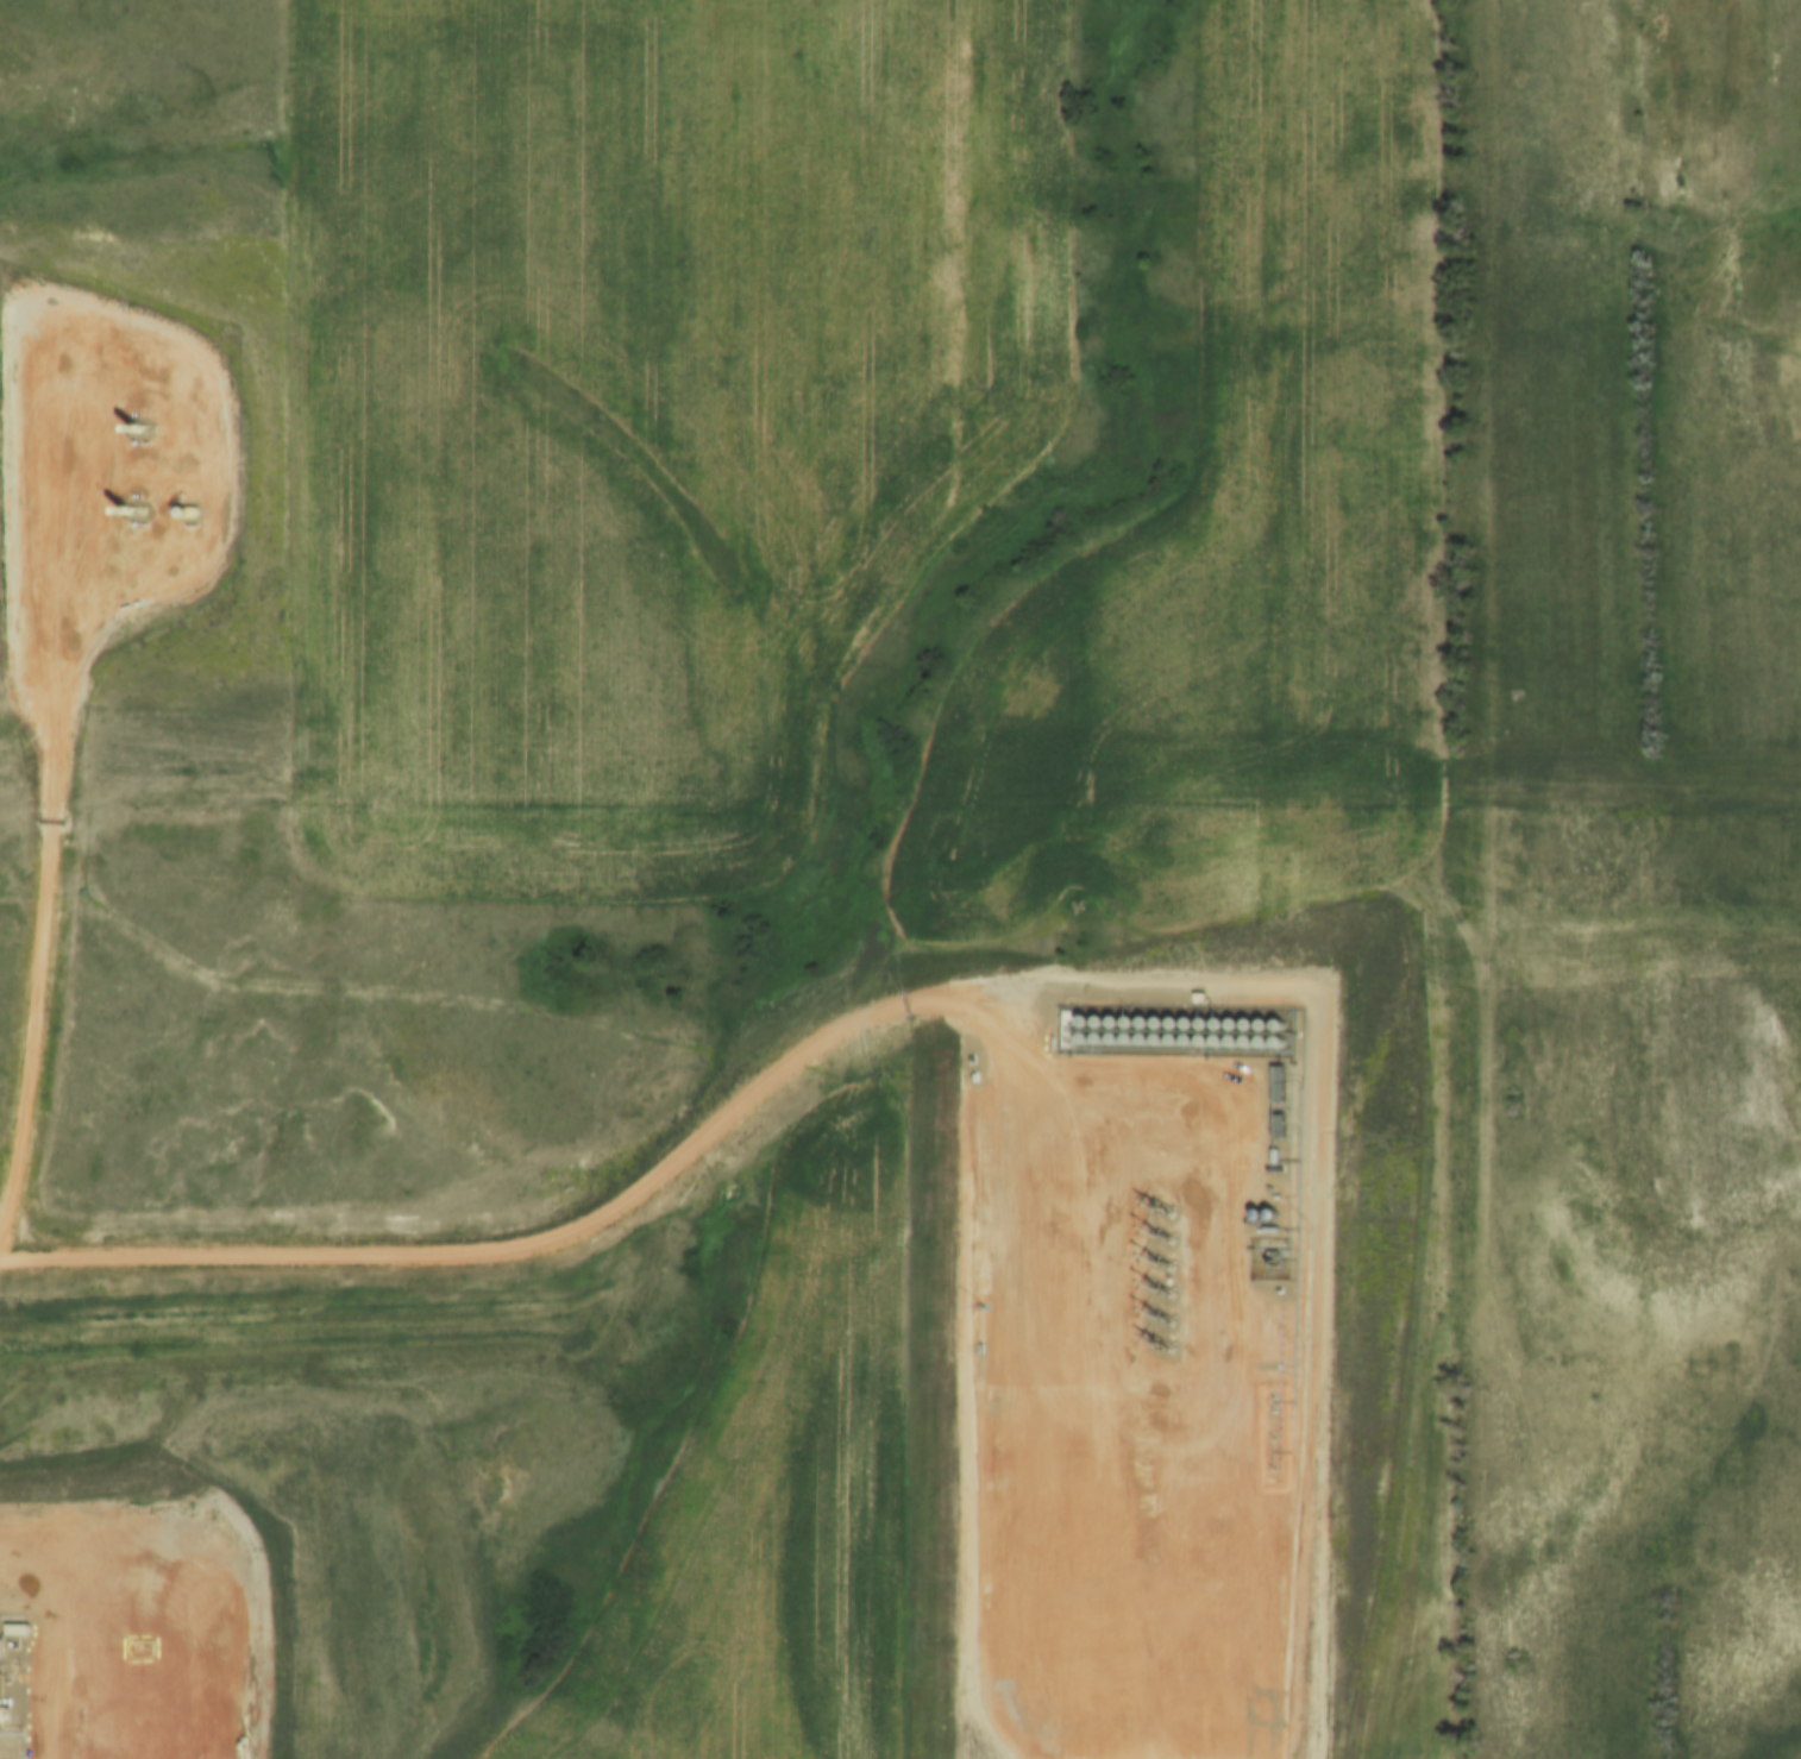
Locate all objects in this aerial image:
petroleum well: (128, 426)
petroleum well: (126, 508)
petroleum well: (180, 511)
road: (50, 797)
building: (1196, 997)
building: (1062, 1030)
building: (968, 1058)
building: (1274, 1082)
building: (1275, 1125)
building: (1270, 1156)
petroleum well: (1157, 1206)
road: (582, 1227)
petroleum well: (1156, 1232)
petroleum well: (1154, 1257)
petroleum well: (1153, 1283)
building: (1278, 1294)
petroleum well: (1156, 1313)
petroleum well: (1154, 1339)
road: (1225, 1365)
road: (63, 1627)
building: (14, 1628)
building: (1, 1713)

